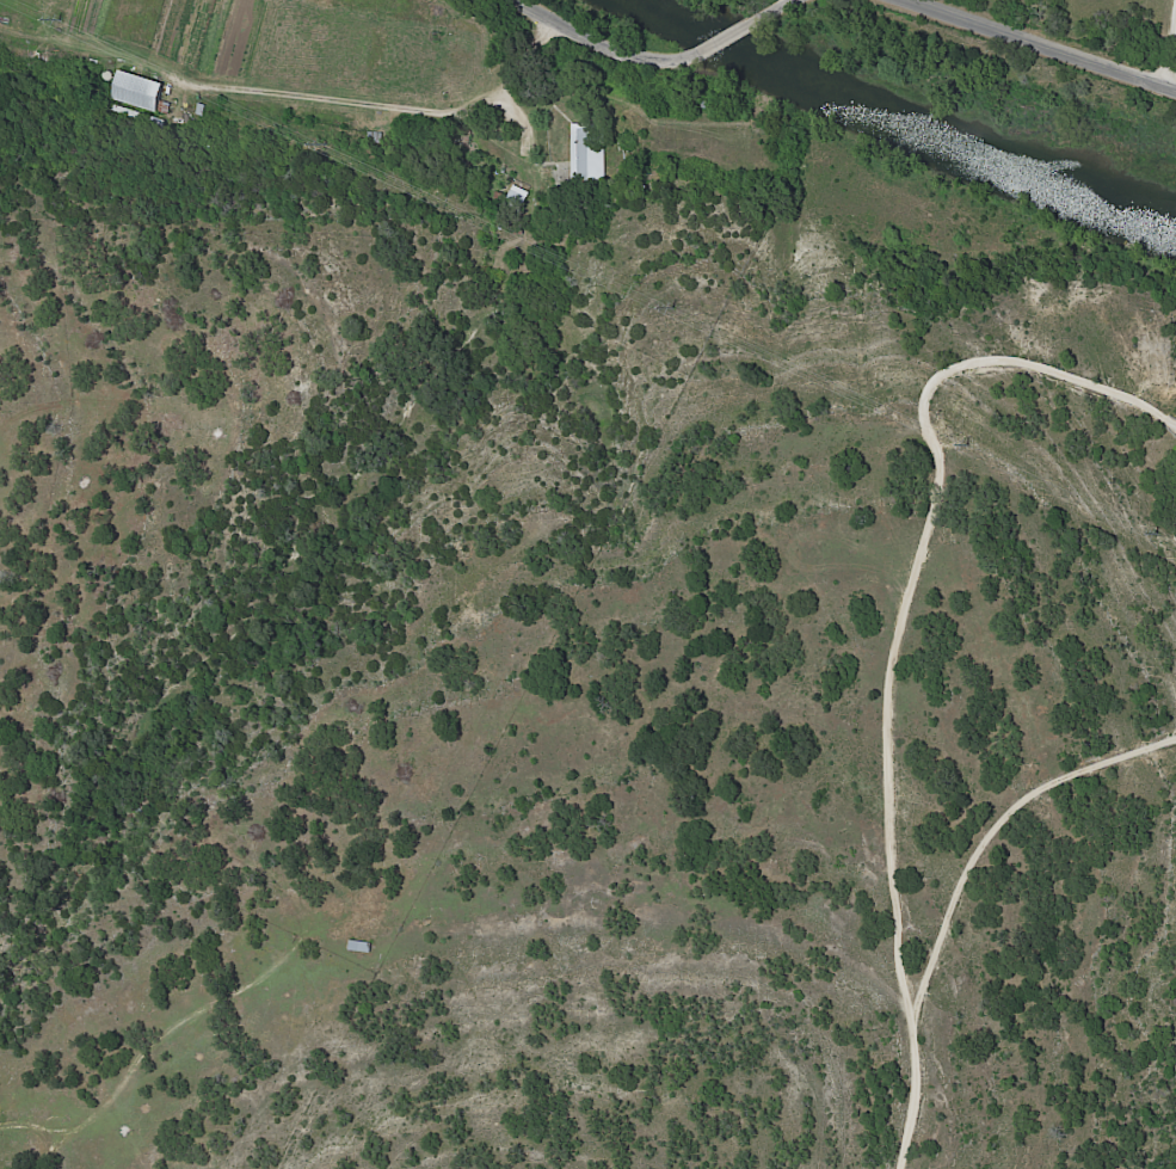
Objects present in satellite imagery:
road: (780, 5)
power tower: (61, 21)
road: (734, 32)
road: (603, 45)
road: (1042, 47)
road: (1170, 50)
building: (141, 91)
power tower: (324, 144)
building: (589, 153)
power tower: (676, 310)
power tower: (971, 445)
power tower: (1156, 534)
road: (893, 638)
building: (362, 947)

